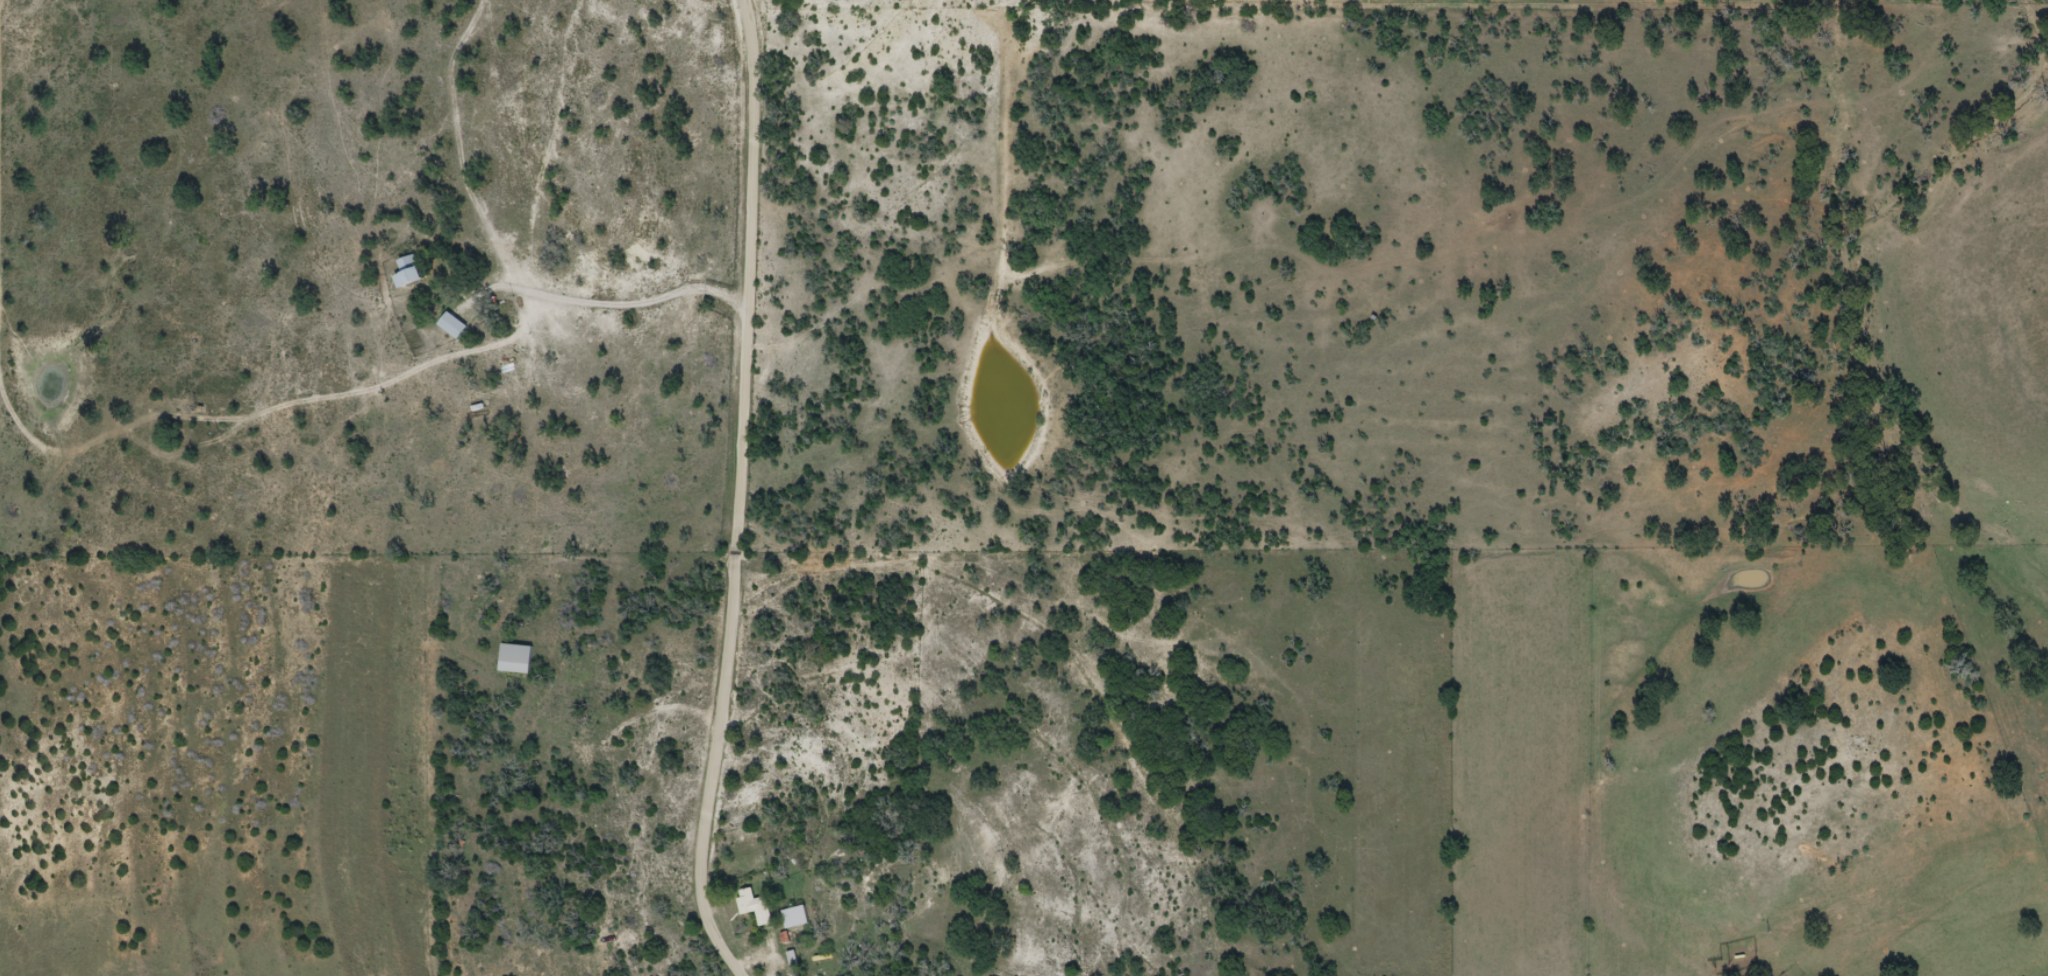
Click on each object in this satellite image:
building: (412, 271)
building: (455, 325)
road: (742, 488)
building: (517, 658)
building: (757, 906)
building: (796, 915)

